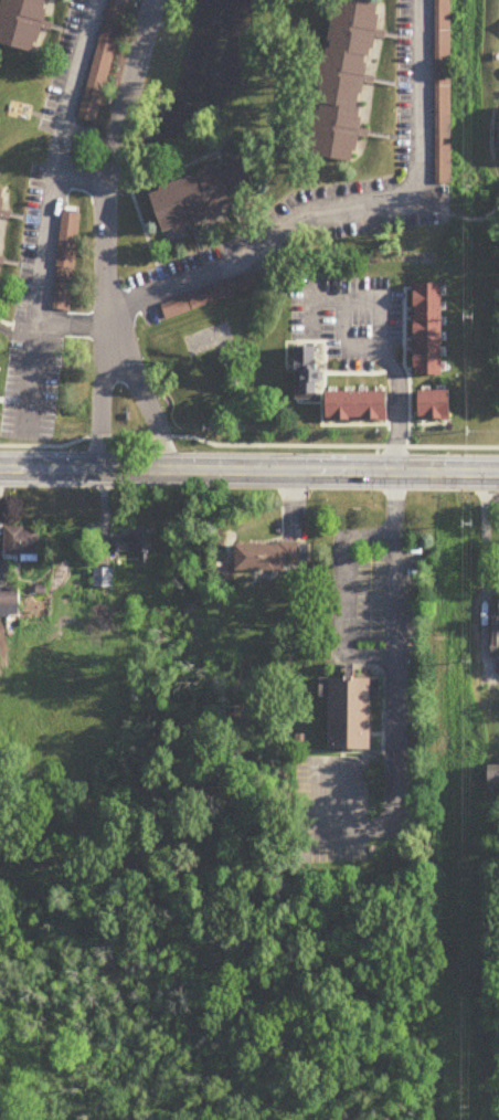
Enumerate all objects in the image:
building: (25, 22)
parking lot: (103, 56)
building: (104, 62)
building: (350, 77)
parking lot: (439, 87)
building: (443, 92)
building: (498, 135)
road: (108, 161)
road: (83, 173)
building: (209, 196)
road: (309, 214)
road: (49, 216)
building: (3, 218)
parking lot: (62, 253)
building: (66, 263)
parking lot: (206, 289)
road: (329, 300)
road: (311, 307)
parking lot: (346, 315)
building: (317, 316)
building: (426, 327)
road: (379, 332)
road: (404, 366)
building: (309, 372)
road: (333, 372)
road: (140, 397)
road: (102, 399)
building: (432, 403)
building: (354, 404)
road: (431, 422)
road: (326, 423)
road: (400, 423)
road: (247, 444)
road: (375, 457)
road: (250, 468)
building: (22, 542)
building: (135, 546)
building: (272, 557)
road: (343, 592)
parking lot: (369, 596)
building: (9, 603)
building: (495, 638)
road: (348, 662)
road: (394, 667)
road: (382, 694)
building: (348, 709)
road: (381, 732)
building: (299, 740)
road: (330, 750)
road: (341, 757)
building: (496, 779)
parking lot: (329, 806)
road: (358, 850)
park: (97, 995)

